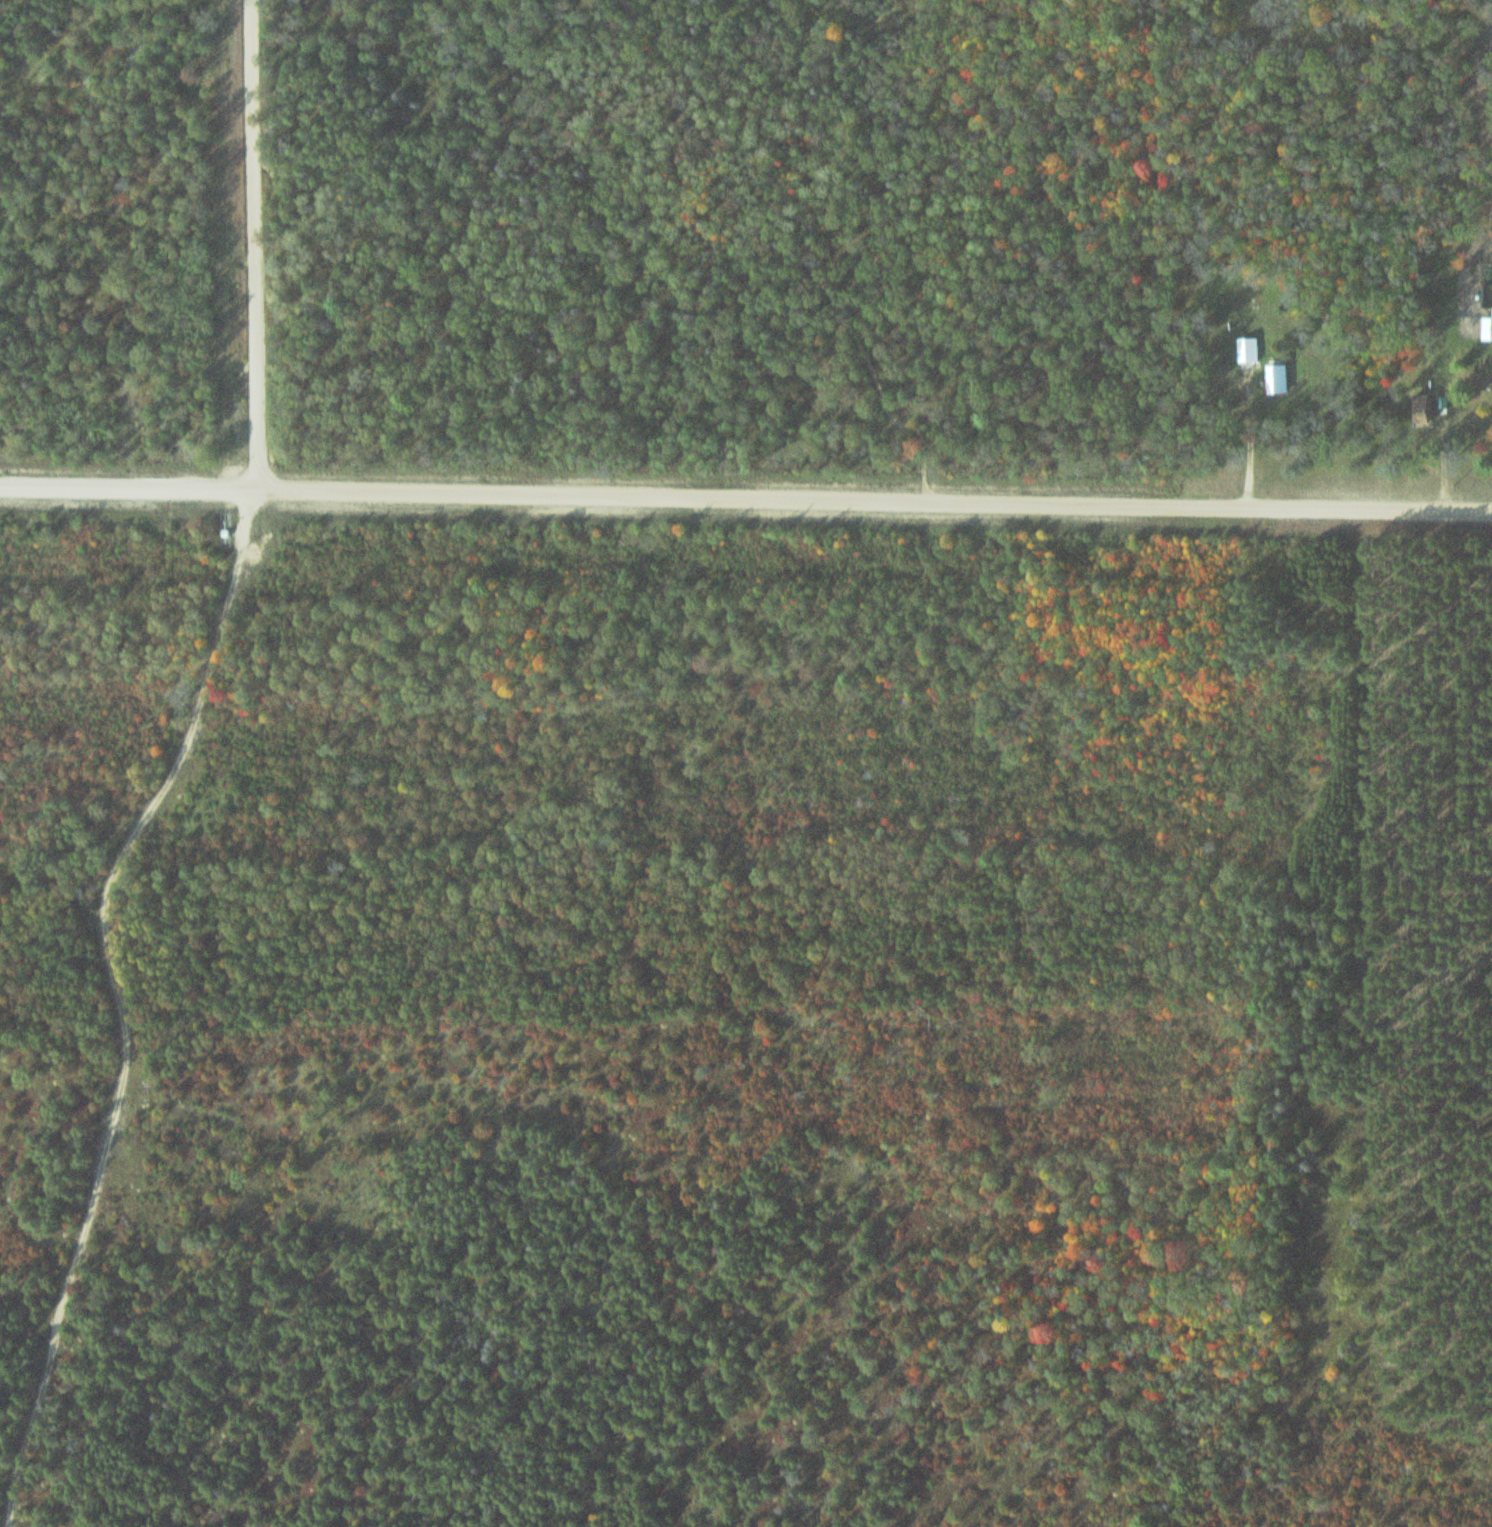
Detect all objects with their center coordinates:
road: (261, 243)
building: (1249, 350)
building: (1278, 379)
building: (1425, 412)
road: (745, 496)
road: (131, 996)

